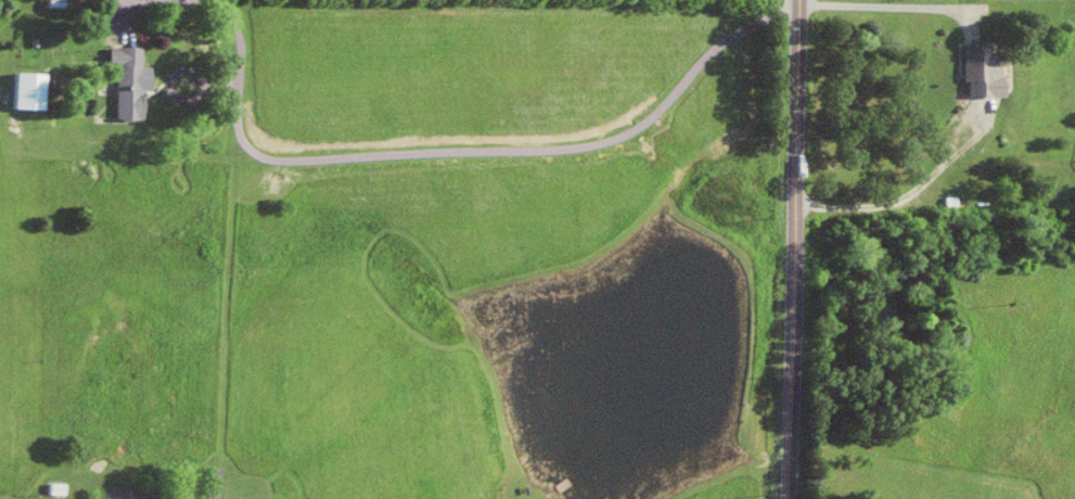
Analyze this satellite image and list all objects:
building: (987, 69)
building: (136, 80)
building: (35, 90)
road: (981, 103)
road: (547, 148)
road: (797, 248)
building: (63, 488)
road: (157, 497)

